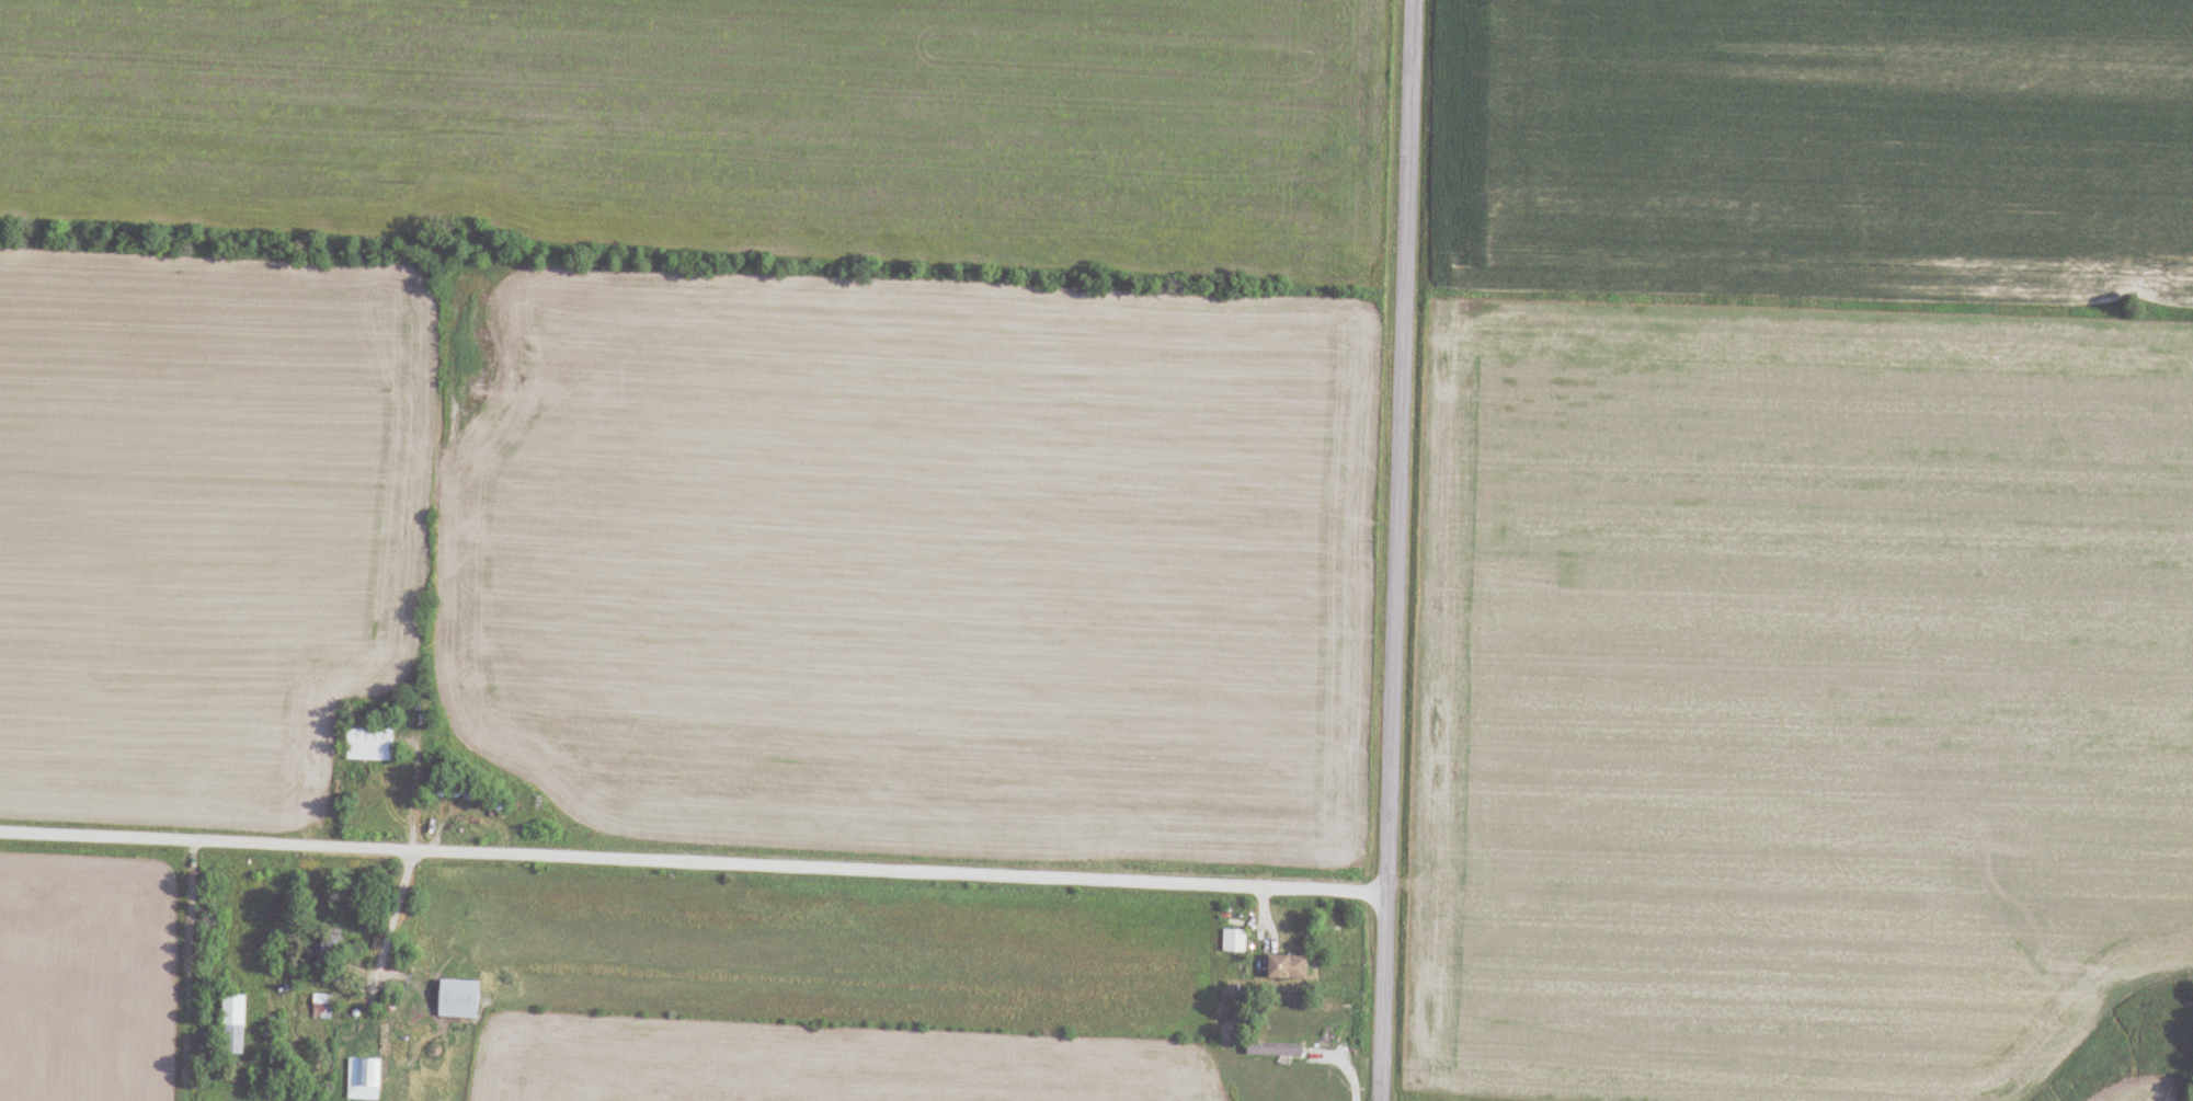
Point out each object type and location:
road: (1395, 550)
building: (370, 742)
road: (694, 867)
road: (398, 911)
building: (1234, 941)
building: (1288, 966)
building: (330, 975)
building: (458, 998)
building: (323, 1006)
building: (233, 1024)
building: (1275, 1050)
building: (364, 1079)

